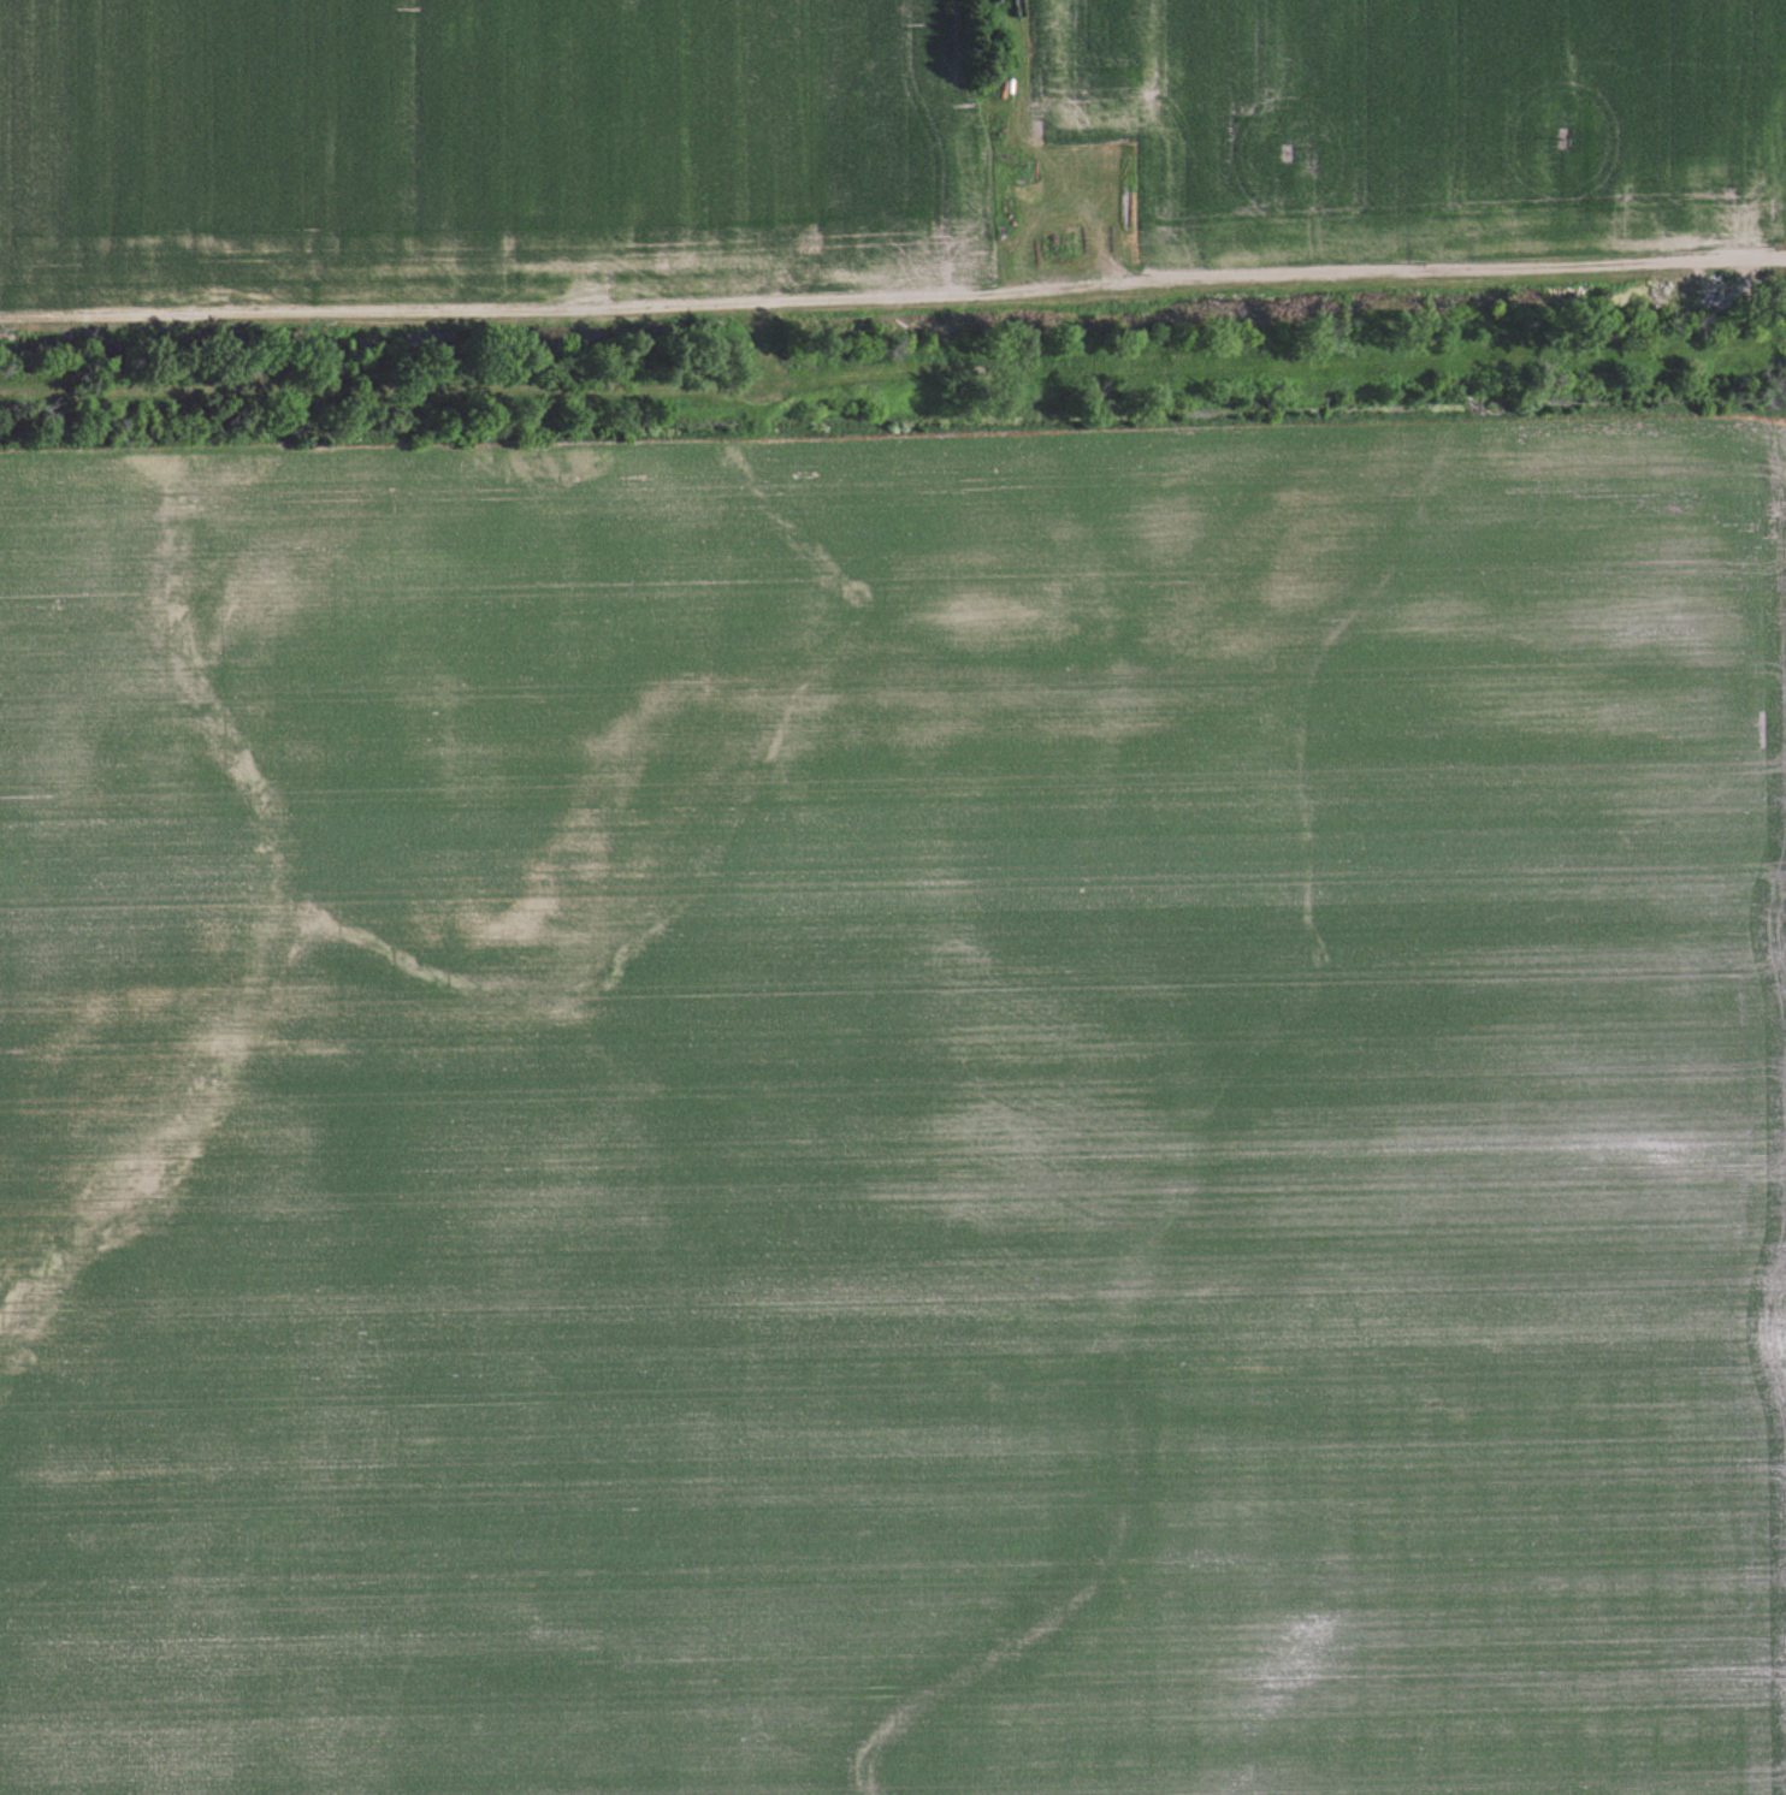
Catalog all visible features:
crop: (1421, 122)
crop: (486, 147)
road: (893, 285)

